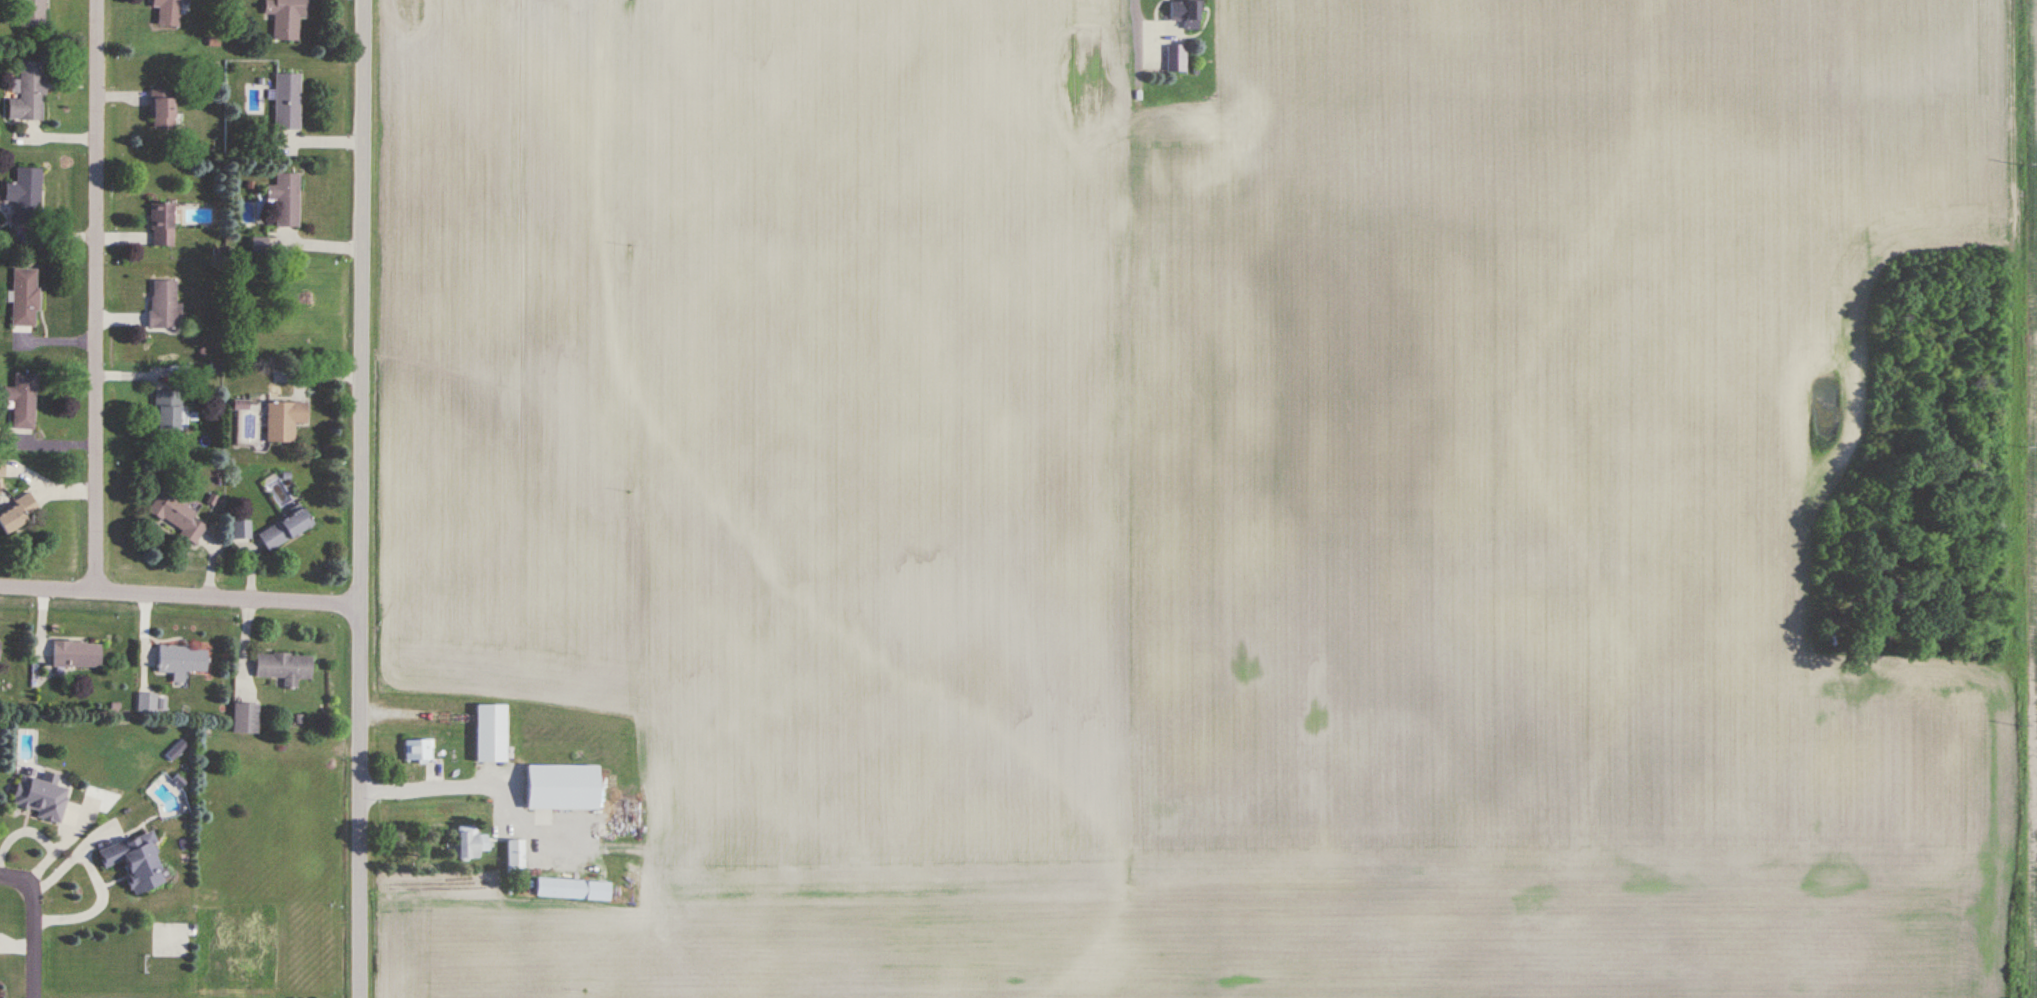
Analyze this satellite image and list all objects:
building: (167, 12)
building: (31, 13)
building: (1185, 13)
building: (285, 17)
road: (1128, 28)
building: (1176, 59)
building: (28, 93)
building: (287, 101)
building: (161, 107)
building: (1203, 156)
building: (25, 196)
building: (286, 199)
building: (161, 224)
road: (98, 295)
building: (25, 298)
building: (163, 304)
building: (22, 401)
building: (166, 410)
building: (284, 420)
road: (362, 498)
building: (18, 516)
building: (176, 516)
building: (240, 530)
building: (285, 530)
road: (181, 595)
building: (76, 655)
building: (181, 661)
building: (284, 668)
building: (146, 704)
building: (245, 719)
building: (491, 734)
building: (418, 751)
road: (473, 779)
building: (562, 788)
building: (41, 798)
road: (50, 843)
building: (471, 844)
building: (515, 860)
building: (135, 863)
road: (79, 884)
building: (572, 890)
road: (27, 928)

